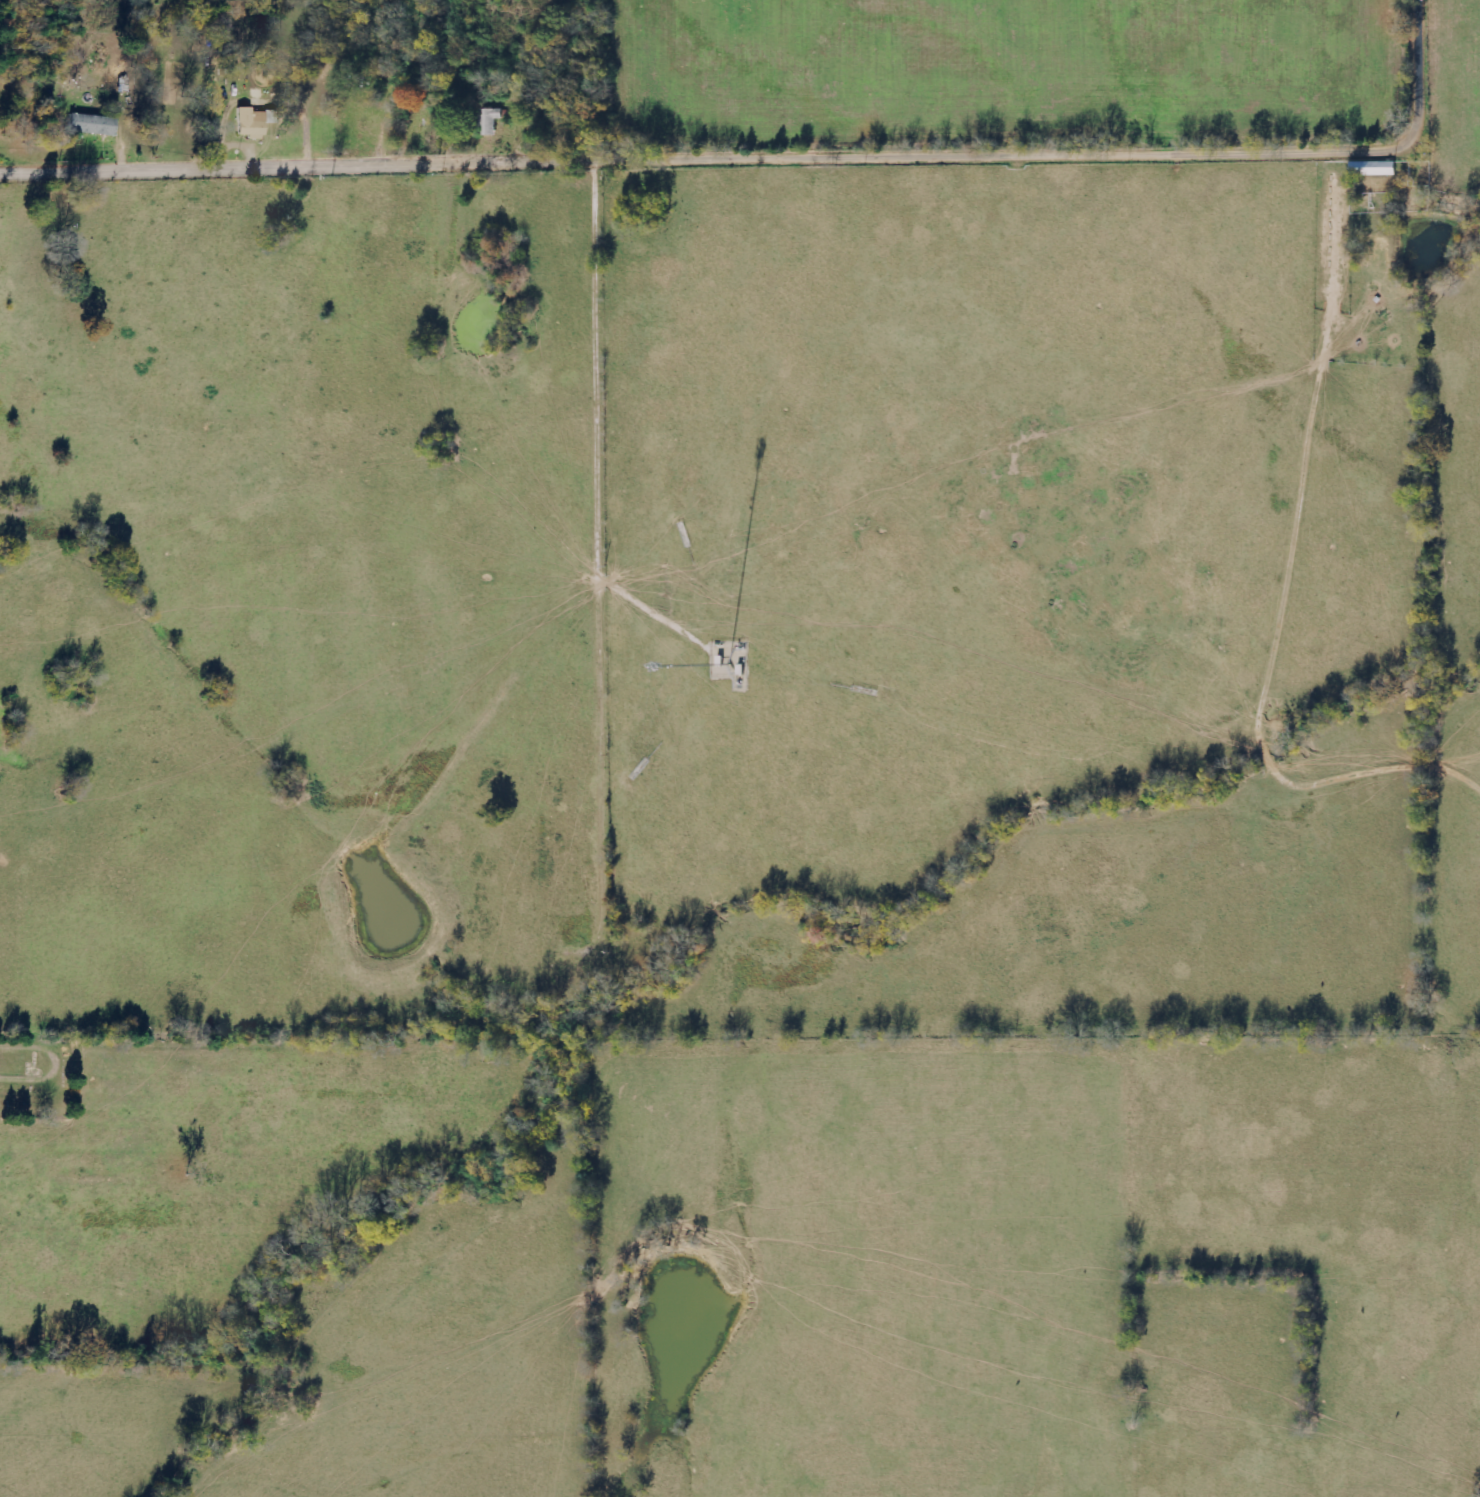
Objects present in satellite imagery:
building: (491, 120)
building: (249, 123)
building: (90, 124)
road: (1160, 158)
road: (375, 169)

